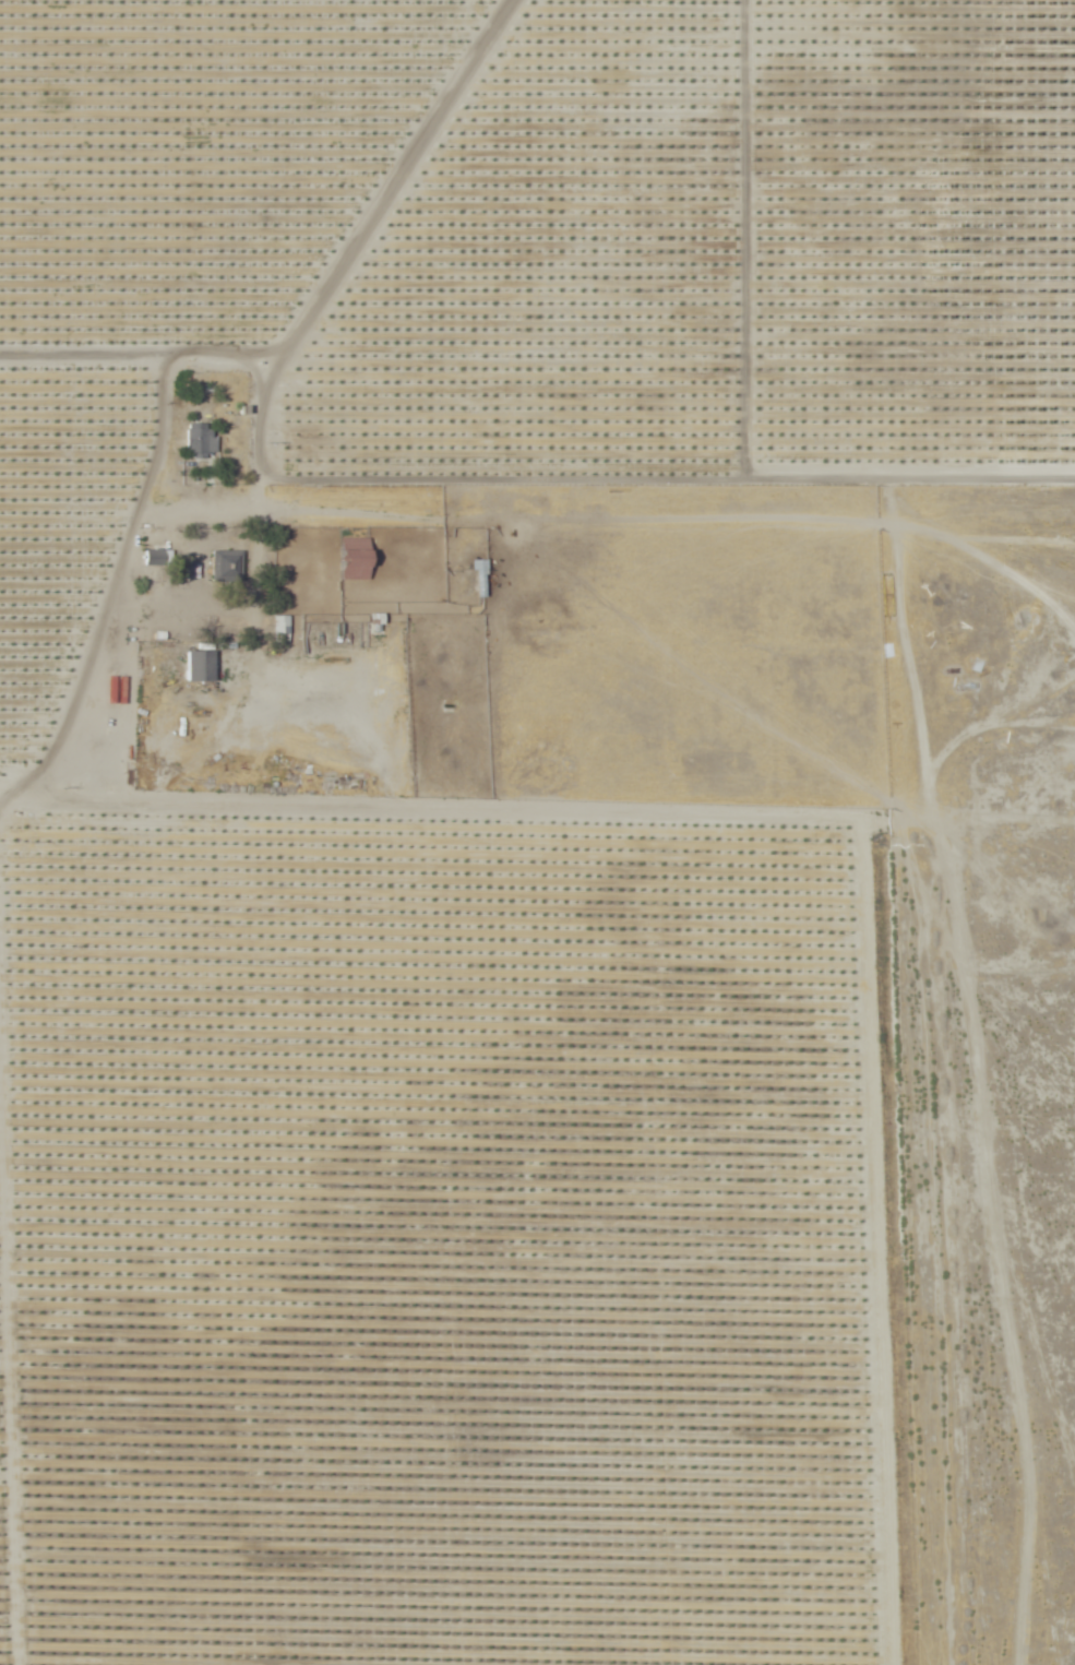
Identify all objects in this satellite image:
crop: (515, 247)
building: (198, 440)
building: (411, 499)
building: (150, 559)
building: (225, 568)
building: (477, 580)
building: (278, 630)
building: (195, 667)
road: (934, 858)
crop: (446, 1249)

